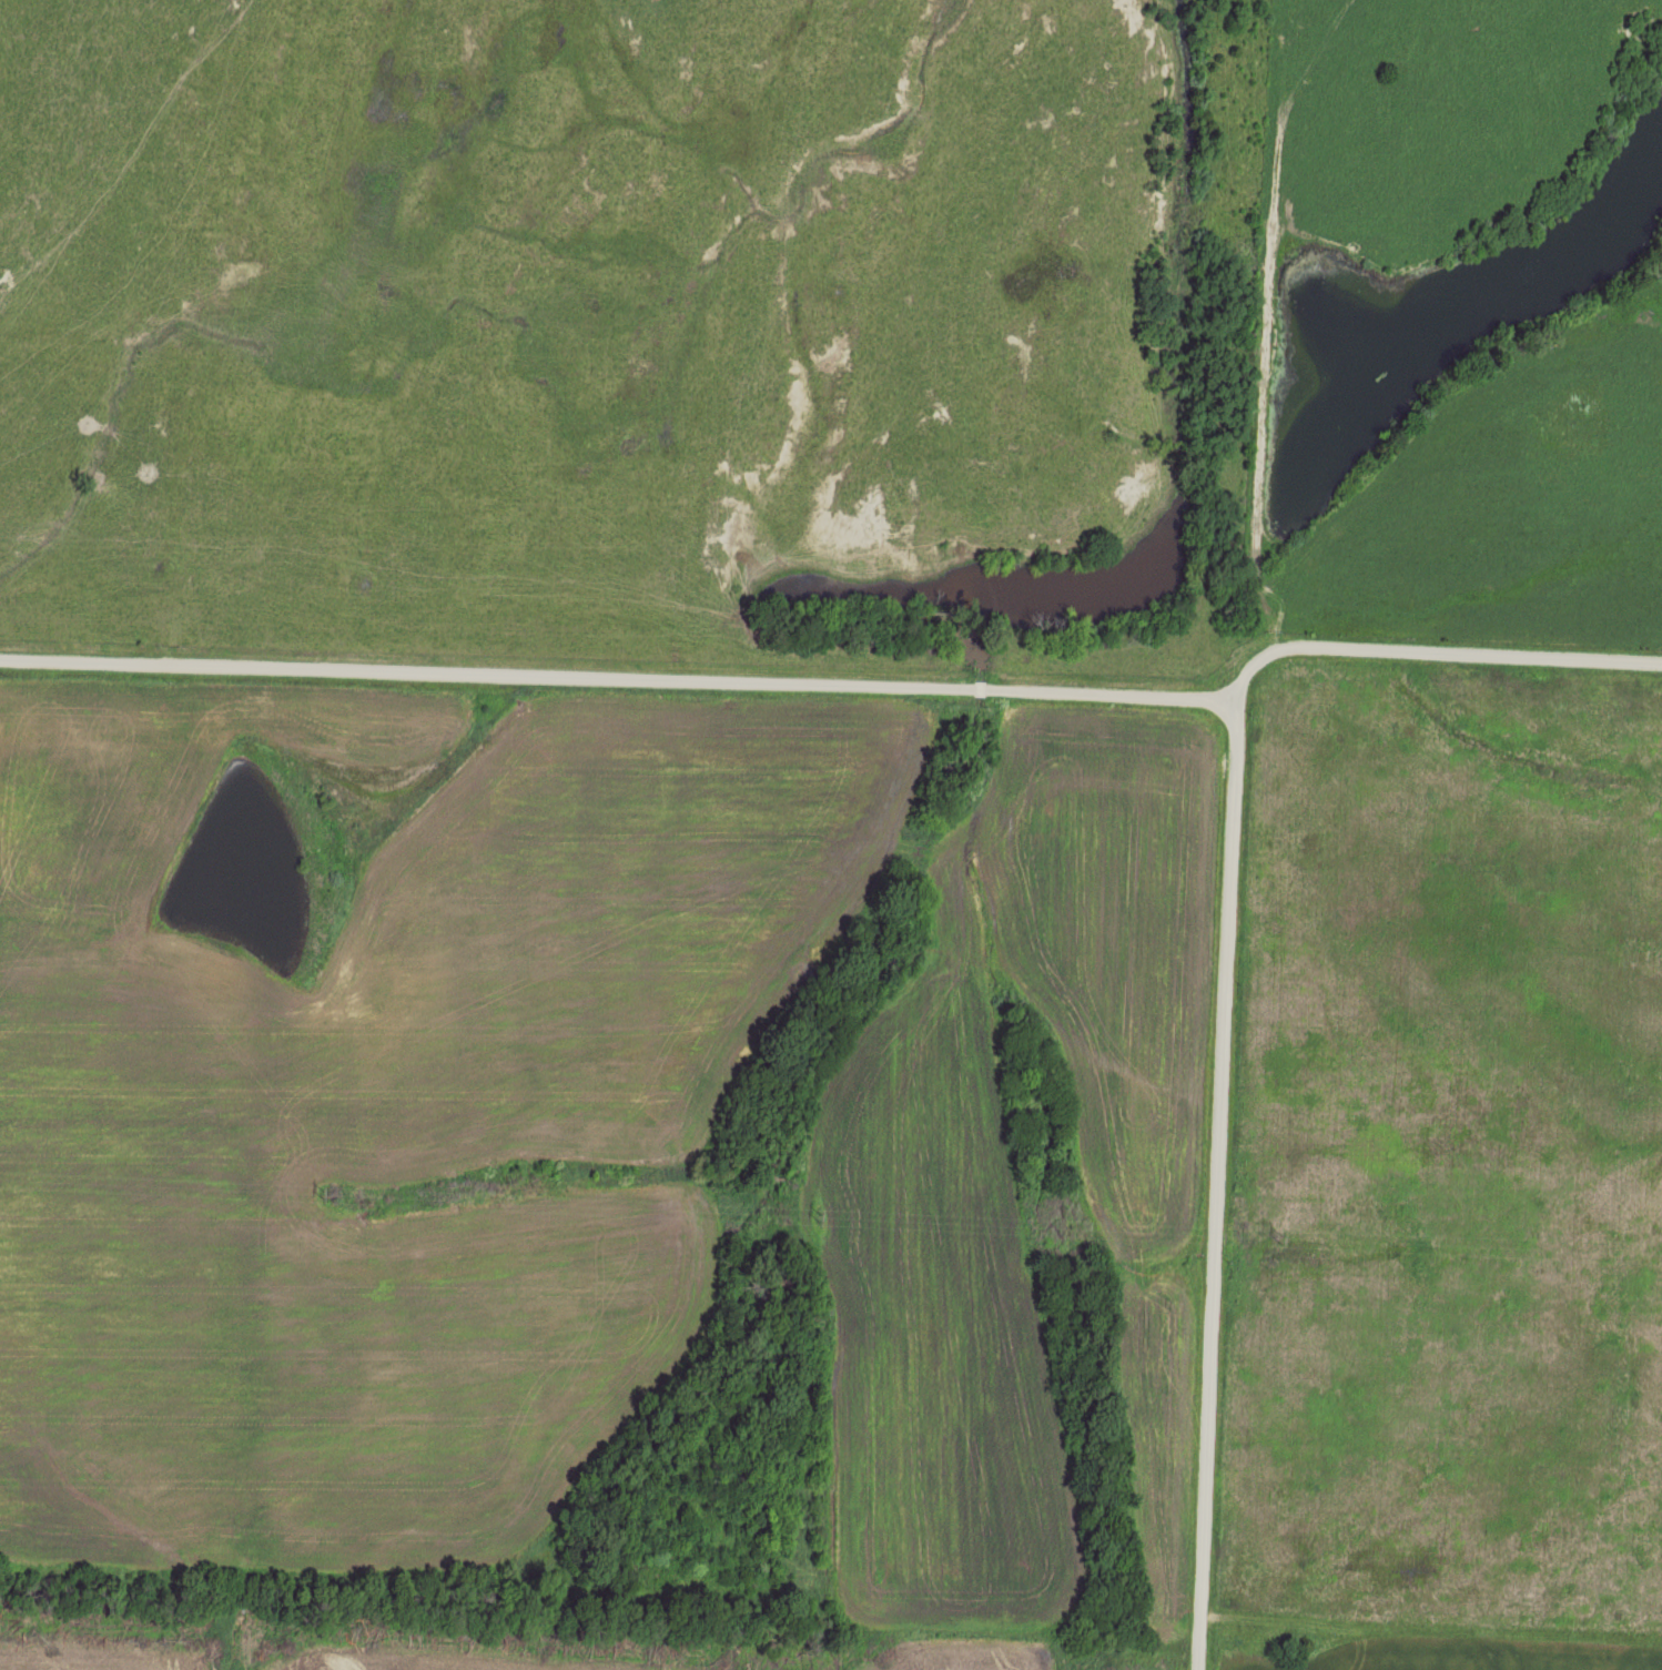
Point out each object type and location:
road: (835, 687)
road: (1223, 1185)

